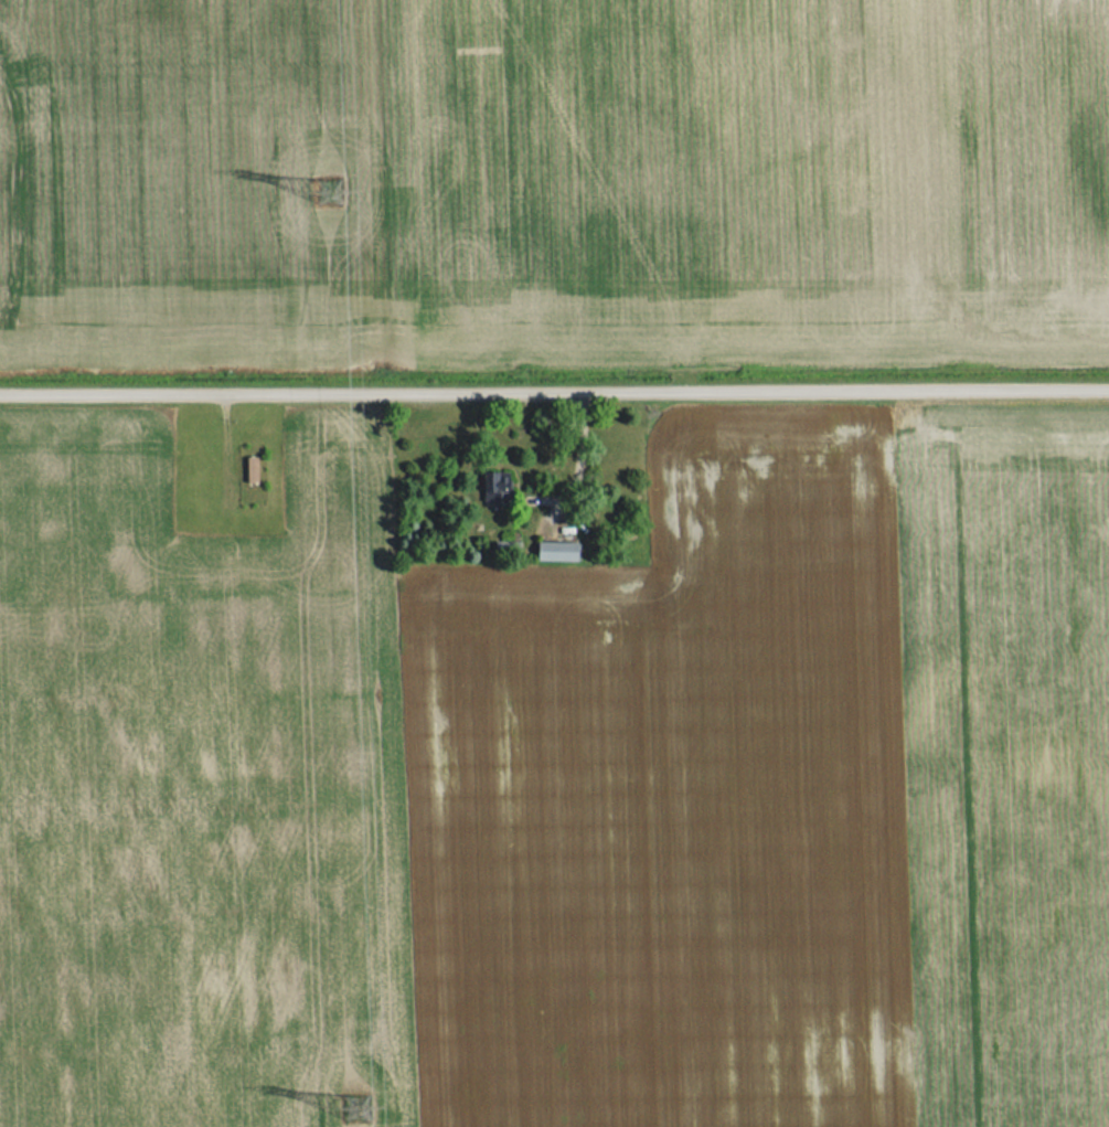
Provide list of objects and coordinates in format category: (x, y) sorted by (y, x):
crop: (191, 178)
crop: (747, 178)
power tower: (326, 191)
road: (554, 387)
road: (225, 448)
building: (250, 469)
building: (553, 552)
crop: (200, 770)
crop: (775, 788)
power tower: (343, 1101)

